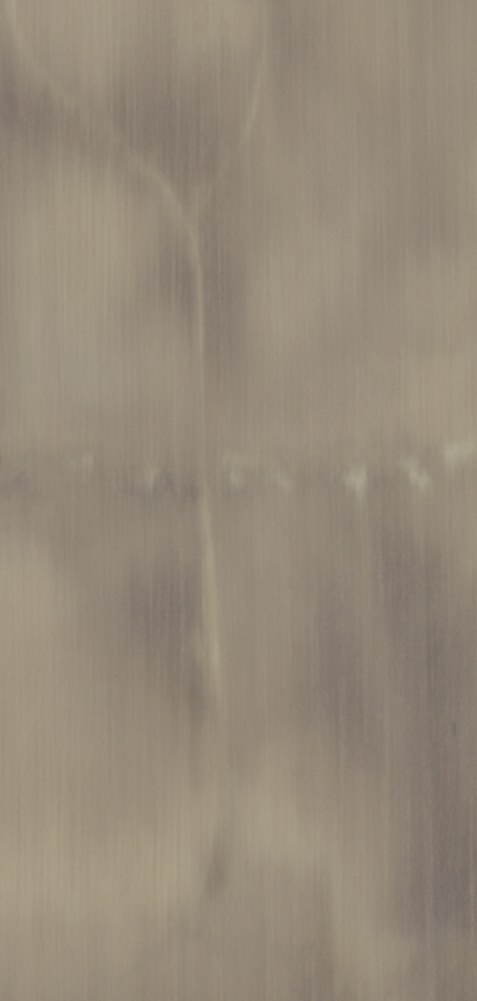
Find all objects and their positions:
crop: (238, 500)

